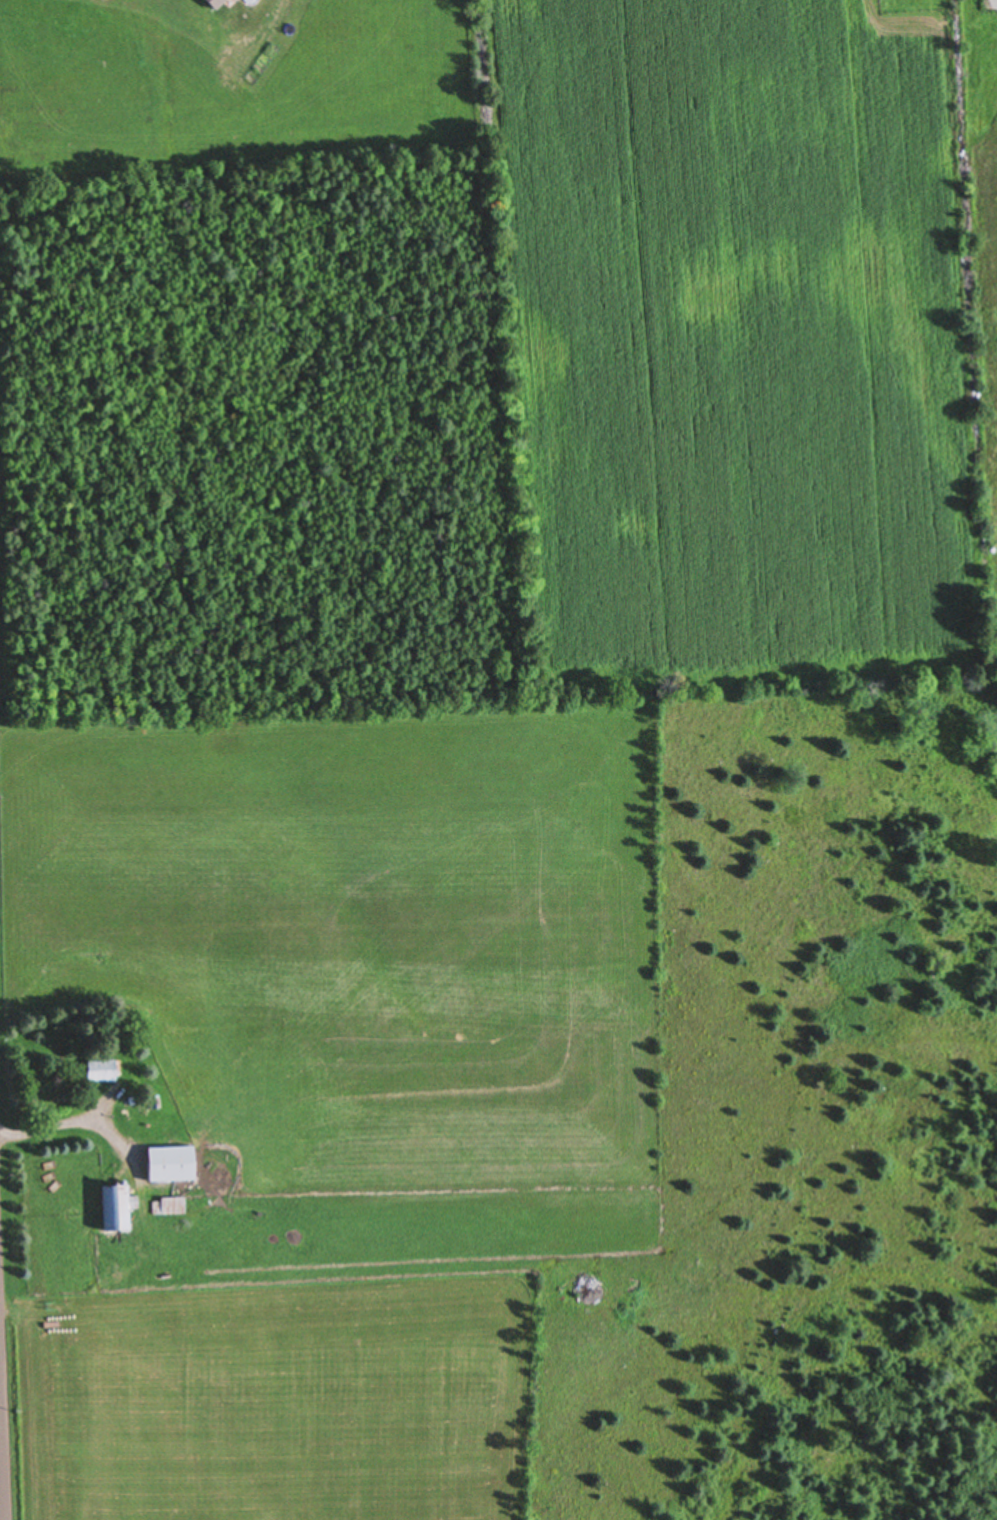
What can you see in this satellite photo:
building: (100, 1072)
building: (169, 1166)
building: (168, 1208)
building: (115, 1210)
road: (2, 1438)

